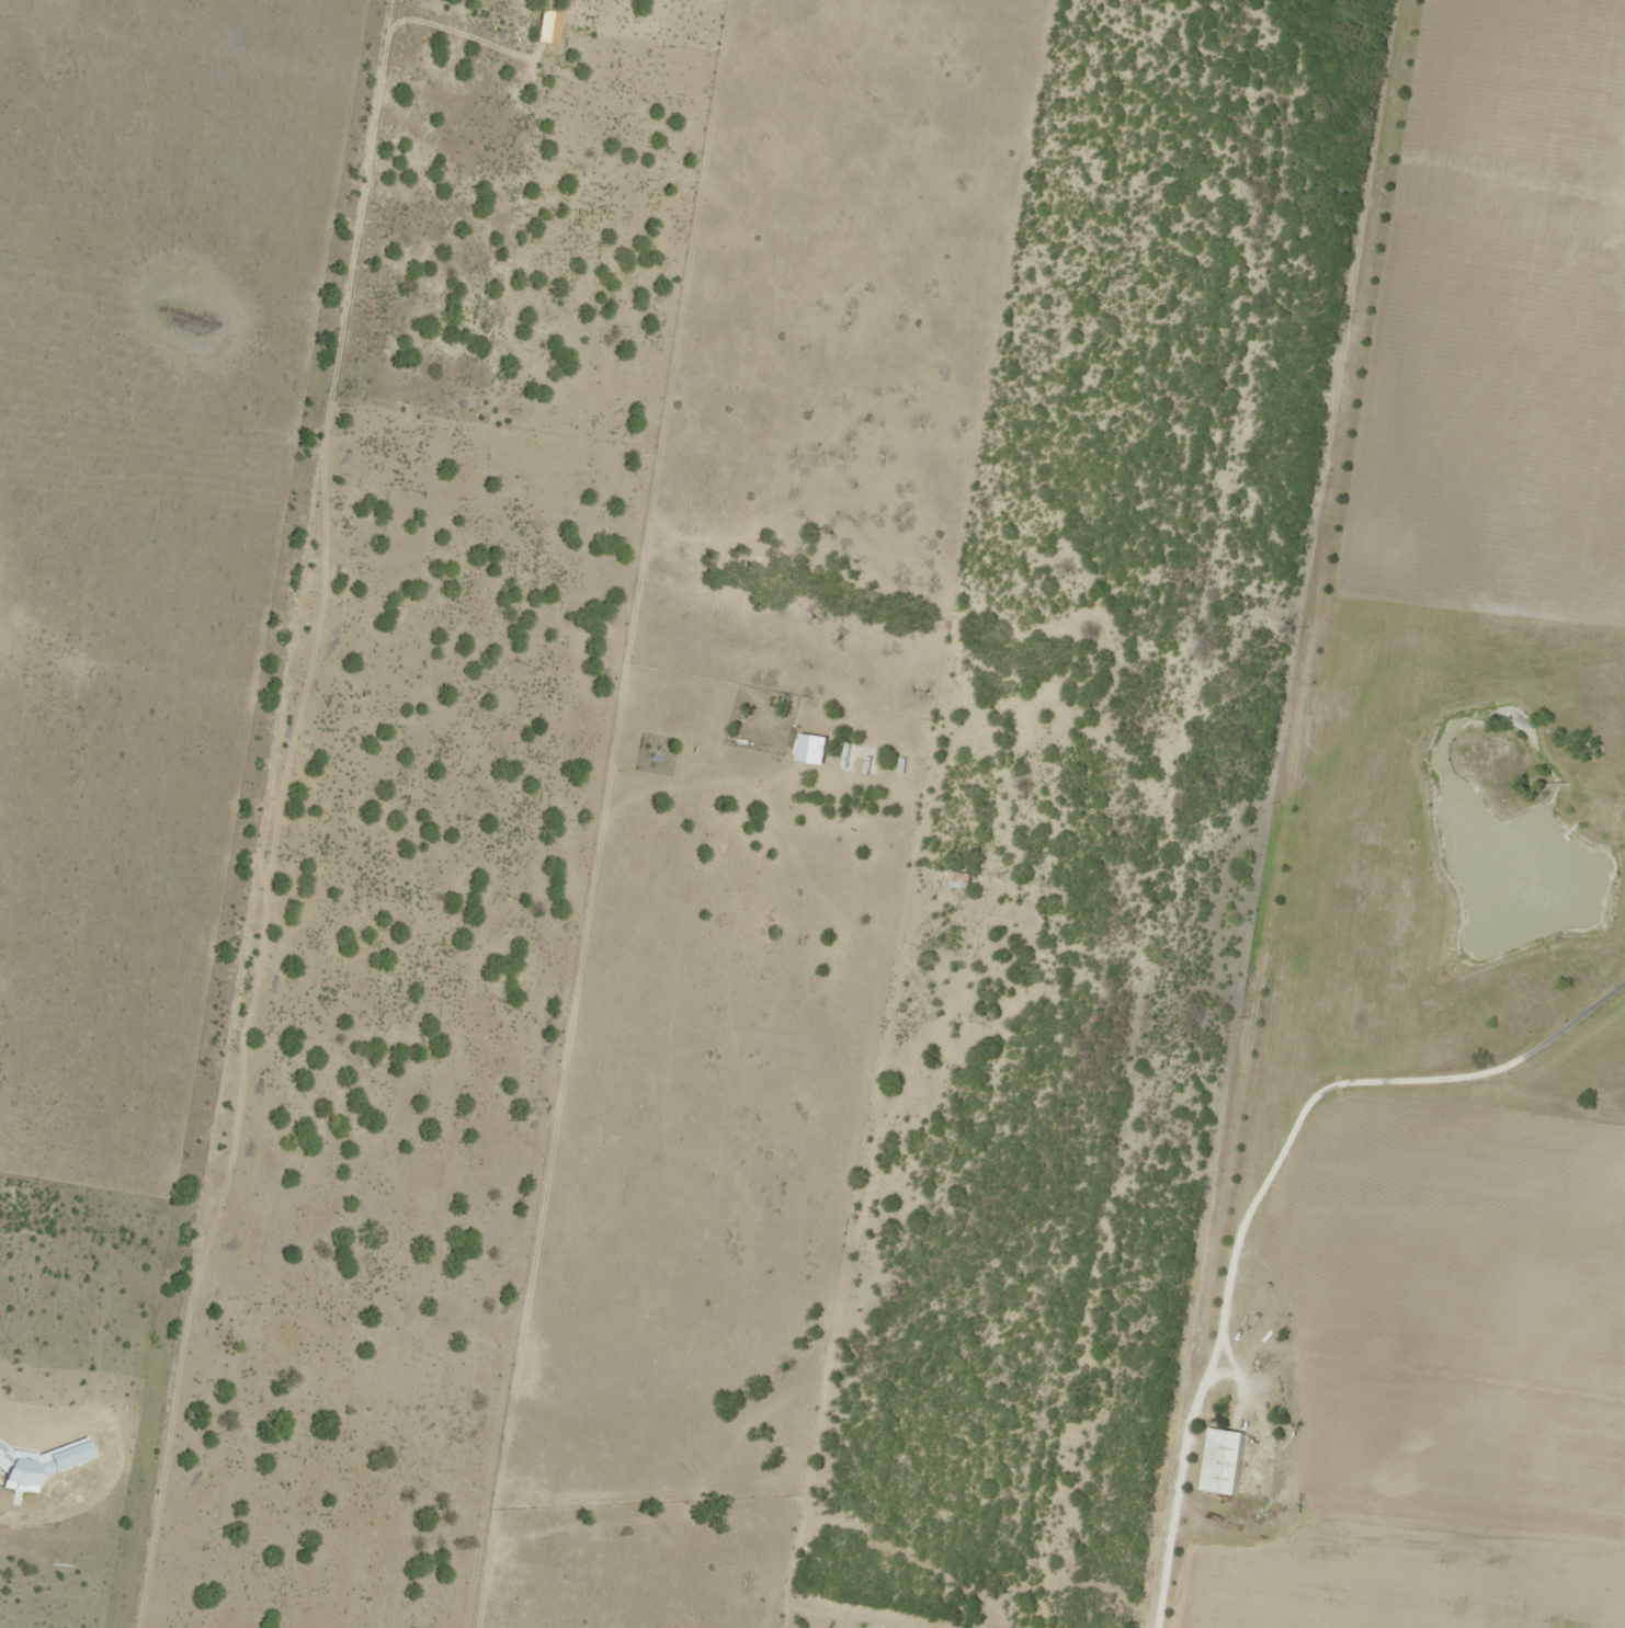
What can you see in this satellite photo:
building: (1224, 1459)

